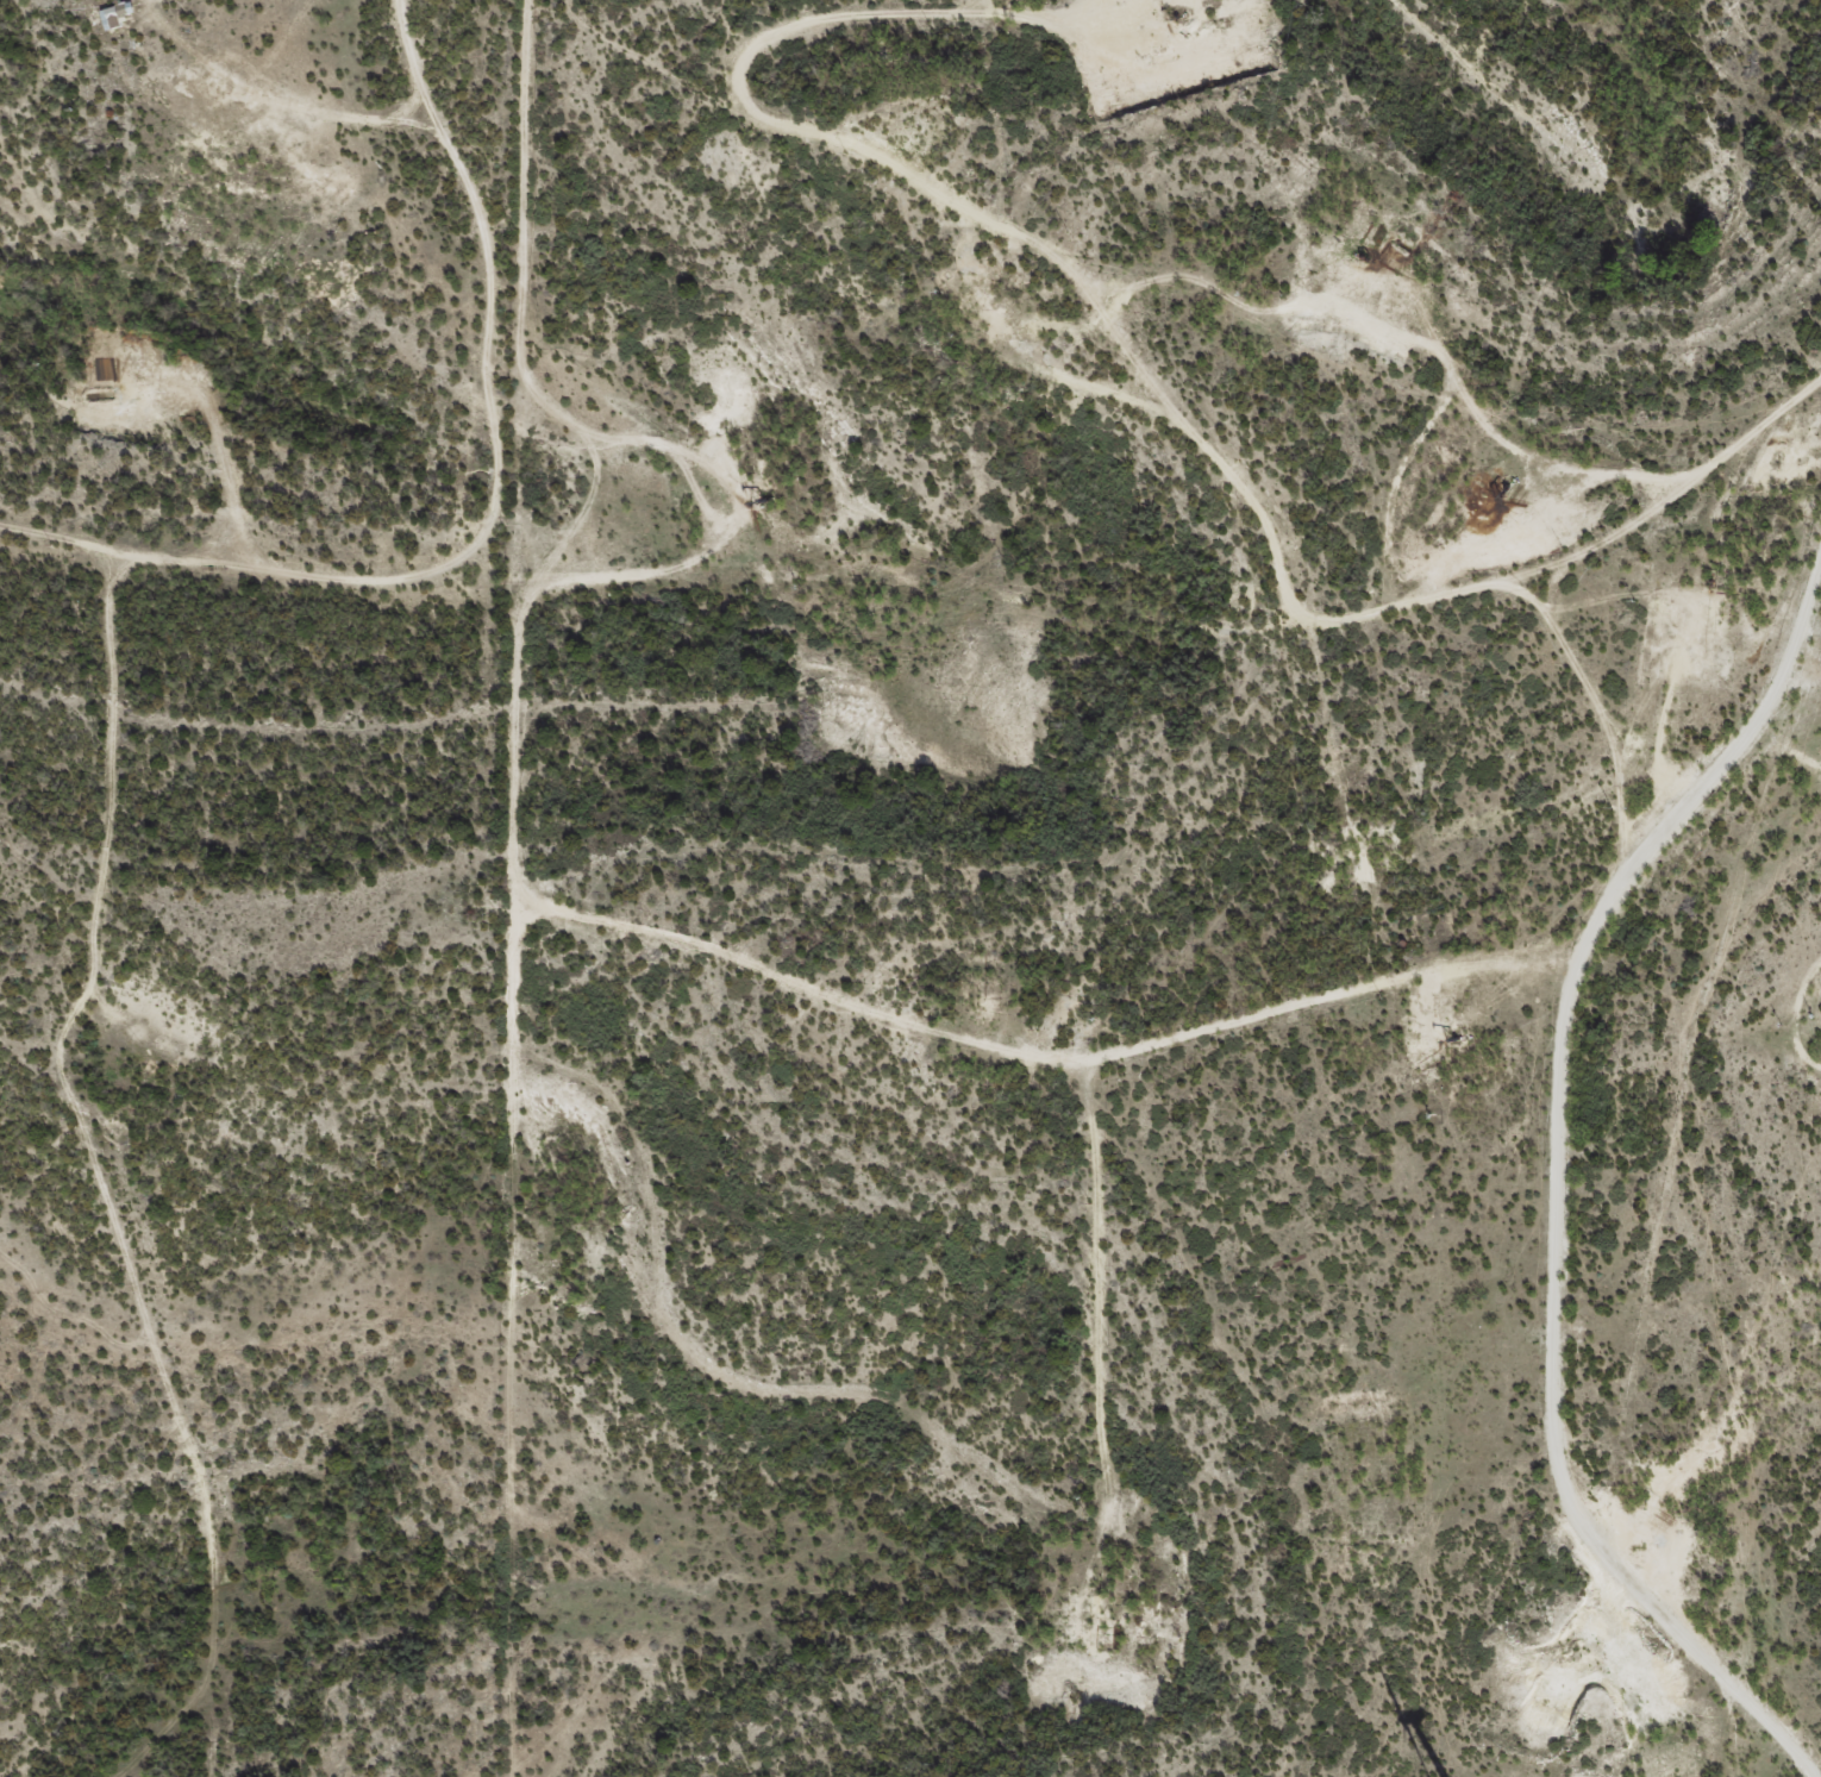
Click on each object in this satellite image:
building: (117, 15)
road: (1479, 48)
road: (905, 223)
road: (508, 275)
road: (933, 595)
road: (1648, 759)
road: (120, 794)
road: (1333, 1007)
road: (1601, 1293)

